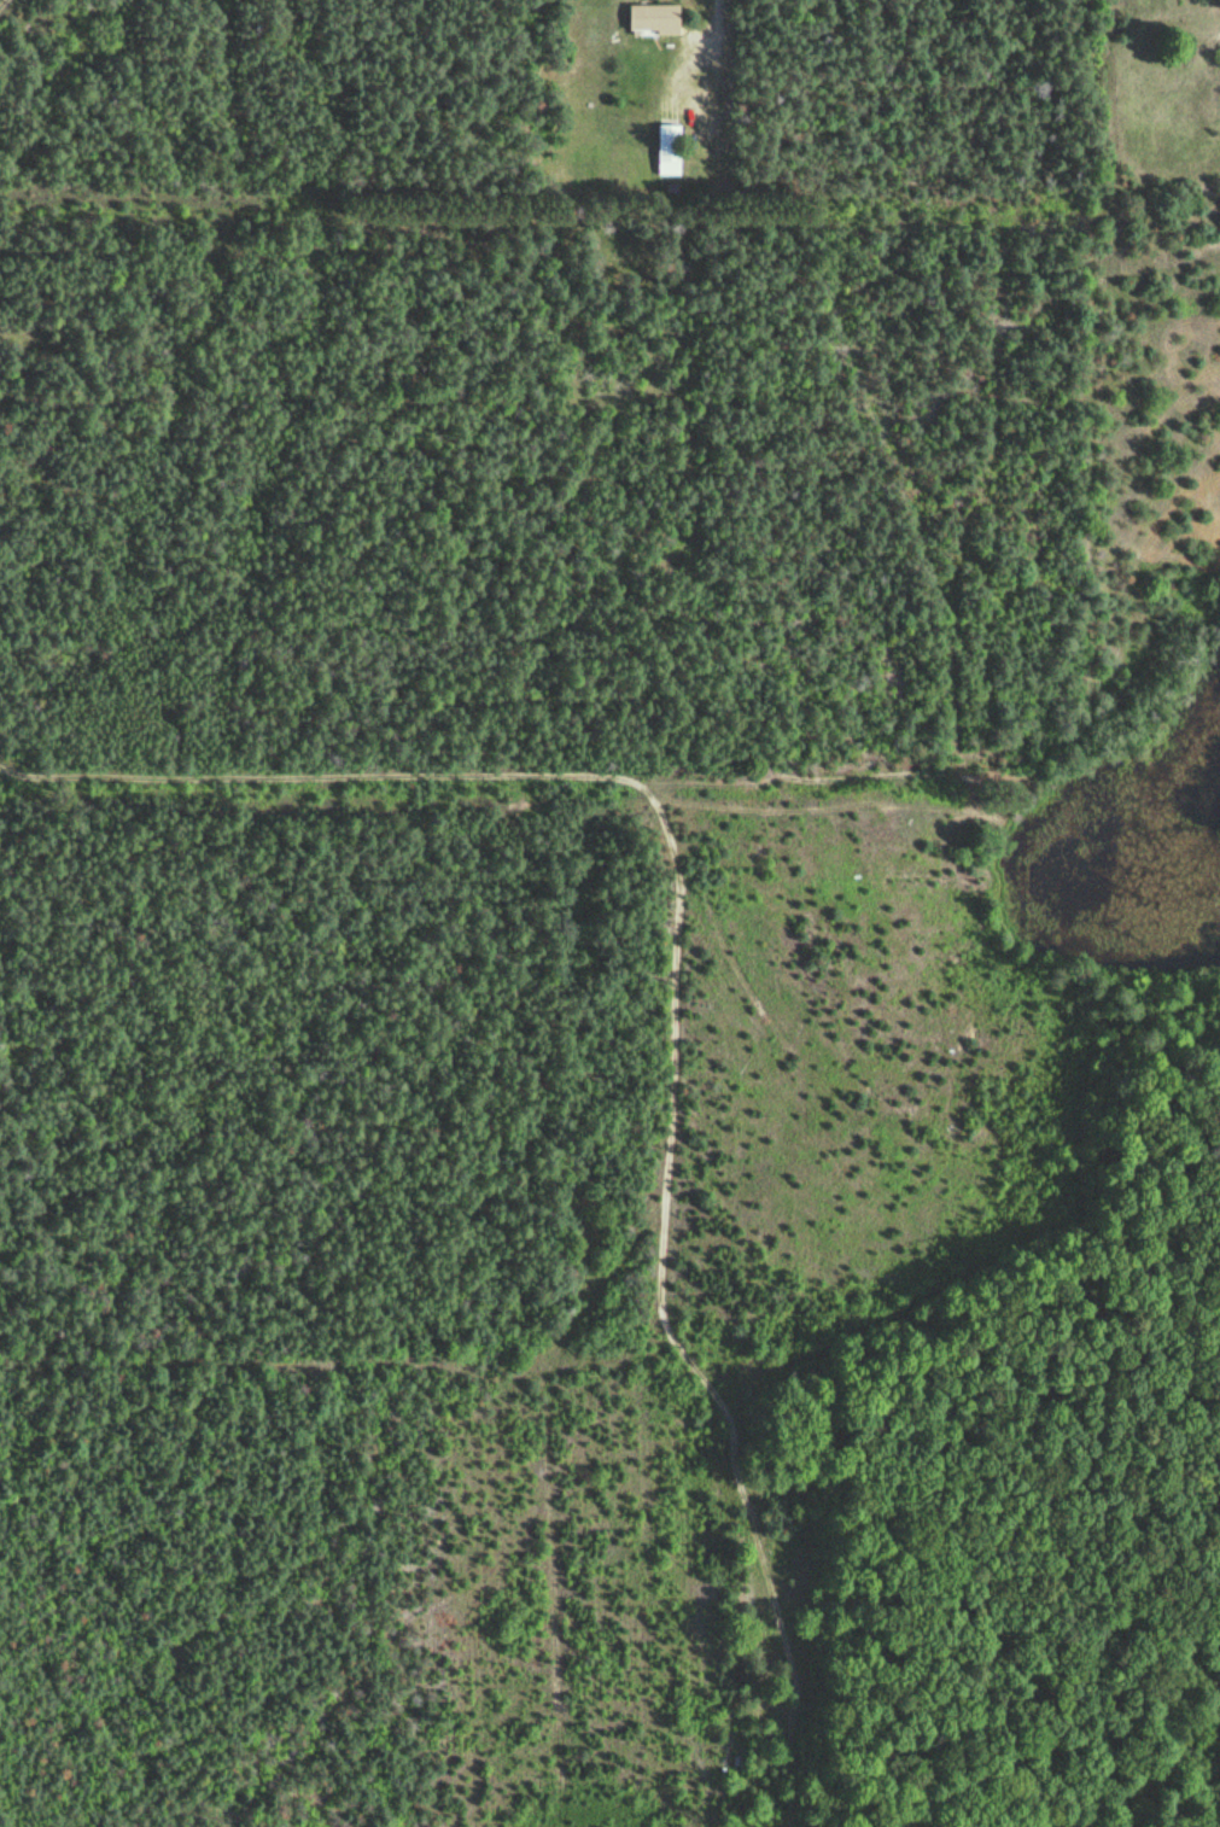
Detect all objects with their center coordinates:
building: (650, 18)
road: (718, 77)
building: (666, 142)

